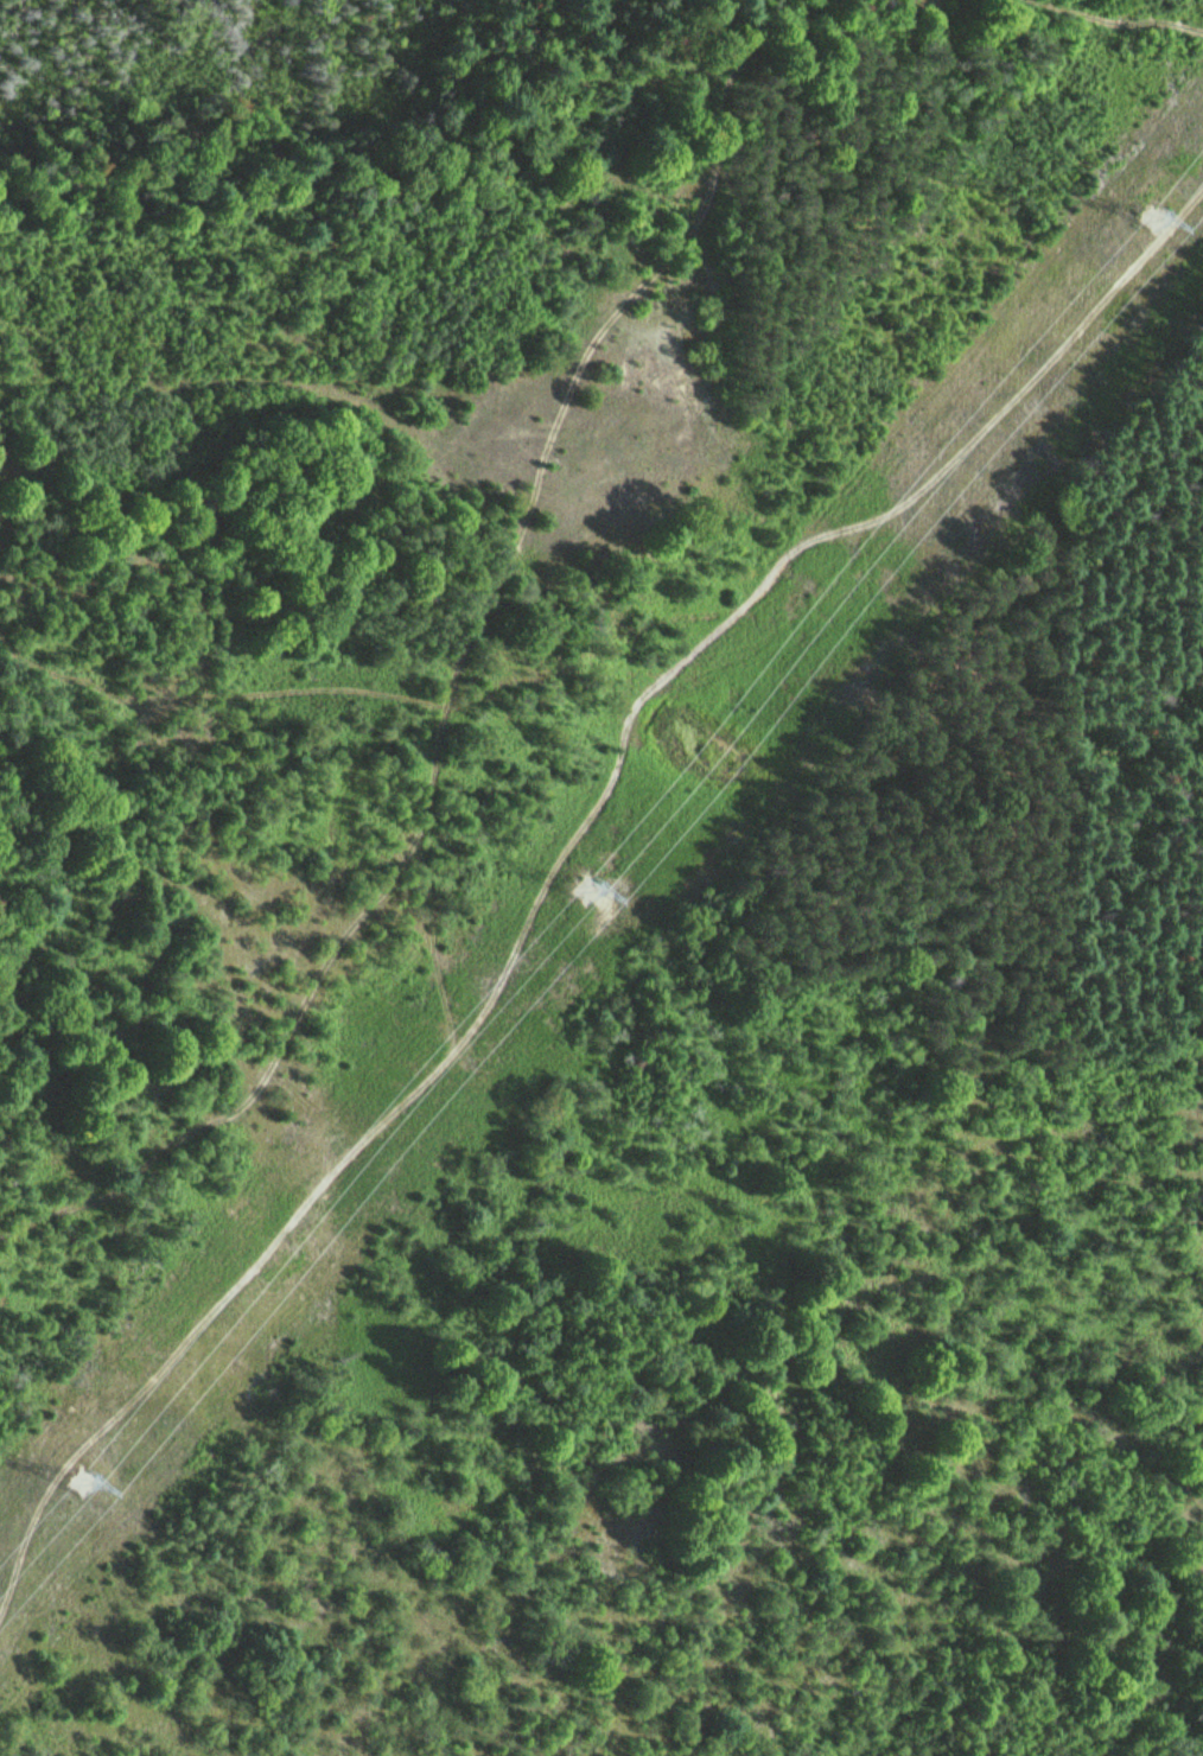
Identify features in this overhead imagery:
river: (164, 112)
power tower: (1151, 221)
power tower: (585, 887)
power tower: (82, 1484)

